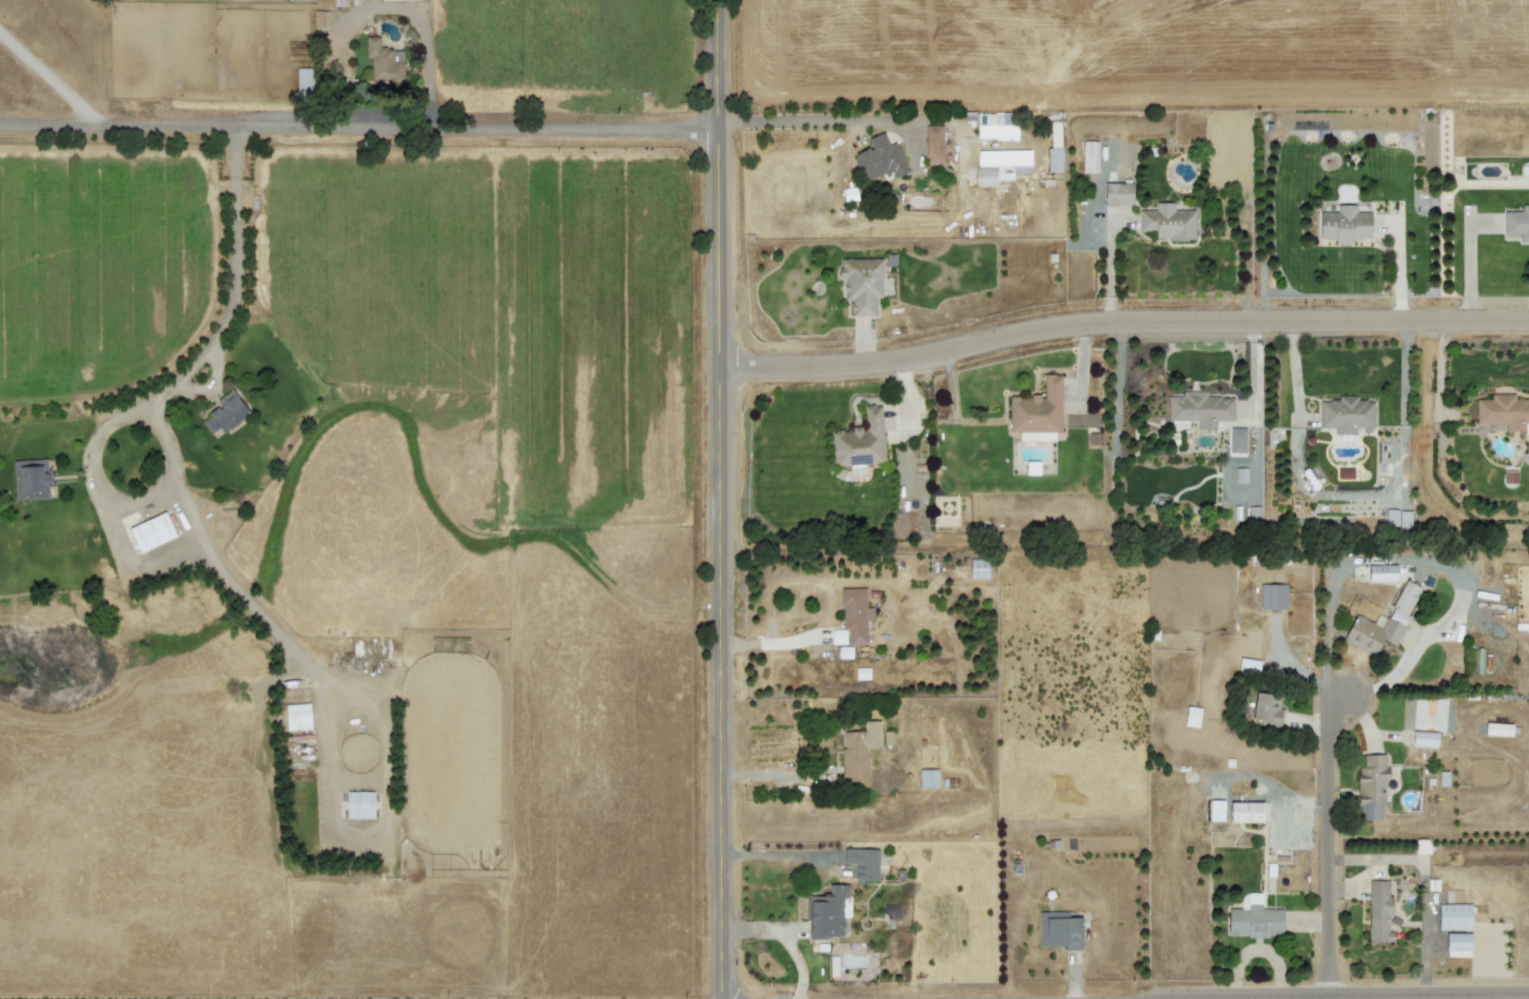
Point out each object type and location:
building: (338, 2)
road: (380, 6)
building: (384, 61)
road: (49, 74)
building: (303, 79)
road: (809, 119)
road: (360, 120)
building: (996, 124)
building: (933, 143)
building: (1054, 148)
building: (1089, 156)
building: (879, 158)
building: (996, 173)
building: (849, 193)
building: (1118, 193)
building: (1168, 221)
building: (1517, 222)
building: (1344, 224)
road: (1108, 261)
building: (861, 282)
road: (1124, 321)
road: (145, 396)
building: (1037, 408)
building: (1200, 408)
building: (1504, 411)
building: (225, 412)
building: (1346, 414)
building: (1236, 439)
building: (860, 441)
crop: (458, 478)
road: (722, 499)
building: (151, 531)
building: (978, 567)
building: (1382, 572)
building: (1272, 595)
building: (855, 613)
building: (1382, 622)
road: (279, 632)
building: (838, 635)
building: (844, 651)
building: (1267, 708)
building: (297, 715)
building: (1191, 715)
building: (1498, 728)
building: (1423, 738)
building: (858, 749)
road: (777, 771)
building: (928, 777)
building: (1371, 786)
building: (359, 803)
building: (1216, 809)
building: (1246, 811)
road: (1330, 846)
road: (773, 853)
building: (864, 862)
building: (1379, 911)
building: (826, 912)
building: (1454, 916)
building: (1254, 918)
building: (1058, 929)
road: (778, 942)
building: (1458, 944)
crop: (1511, 993)
road: (1475, 997)

